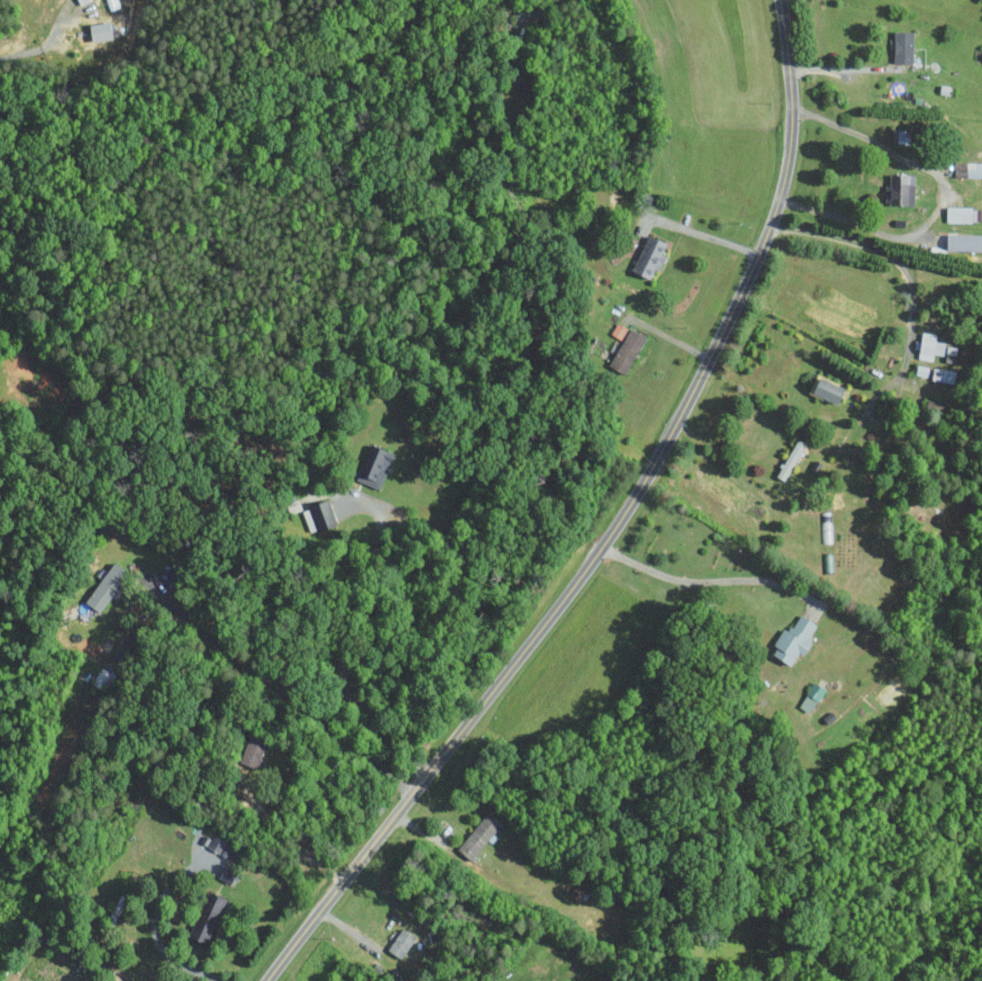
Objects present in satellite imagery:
road: (545, 5)
building: (99, 31)
building: (903, 47)
road: (41, 48)
road: (837, 68)
building: (974, 169)
building: (900, 190)
road: (945, 198)
building: (964, 214)
road: (707, 236)
building: (964, 242)
building: (649, 257)
road: (904, 267)
building: (929, 345)
building: (624, 346)
building: (943, 374)
building: (826, 388)
building: (374, 466)
building: (318, 516)
road: (613, 528)
road: (702, 580)
building: (106, 586)
building: (793, 639)
road: (342, 641)
road: (276, 690)
building: (811, 696)
building: (251, 751)
road: (275, 833)
building: (478, 834)
building: (206, 917)
road: (153, 929)
building: (400, 942)

